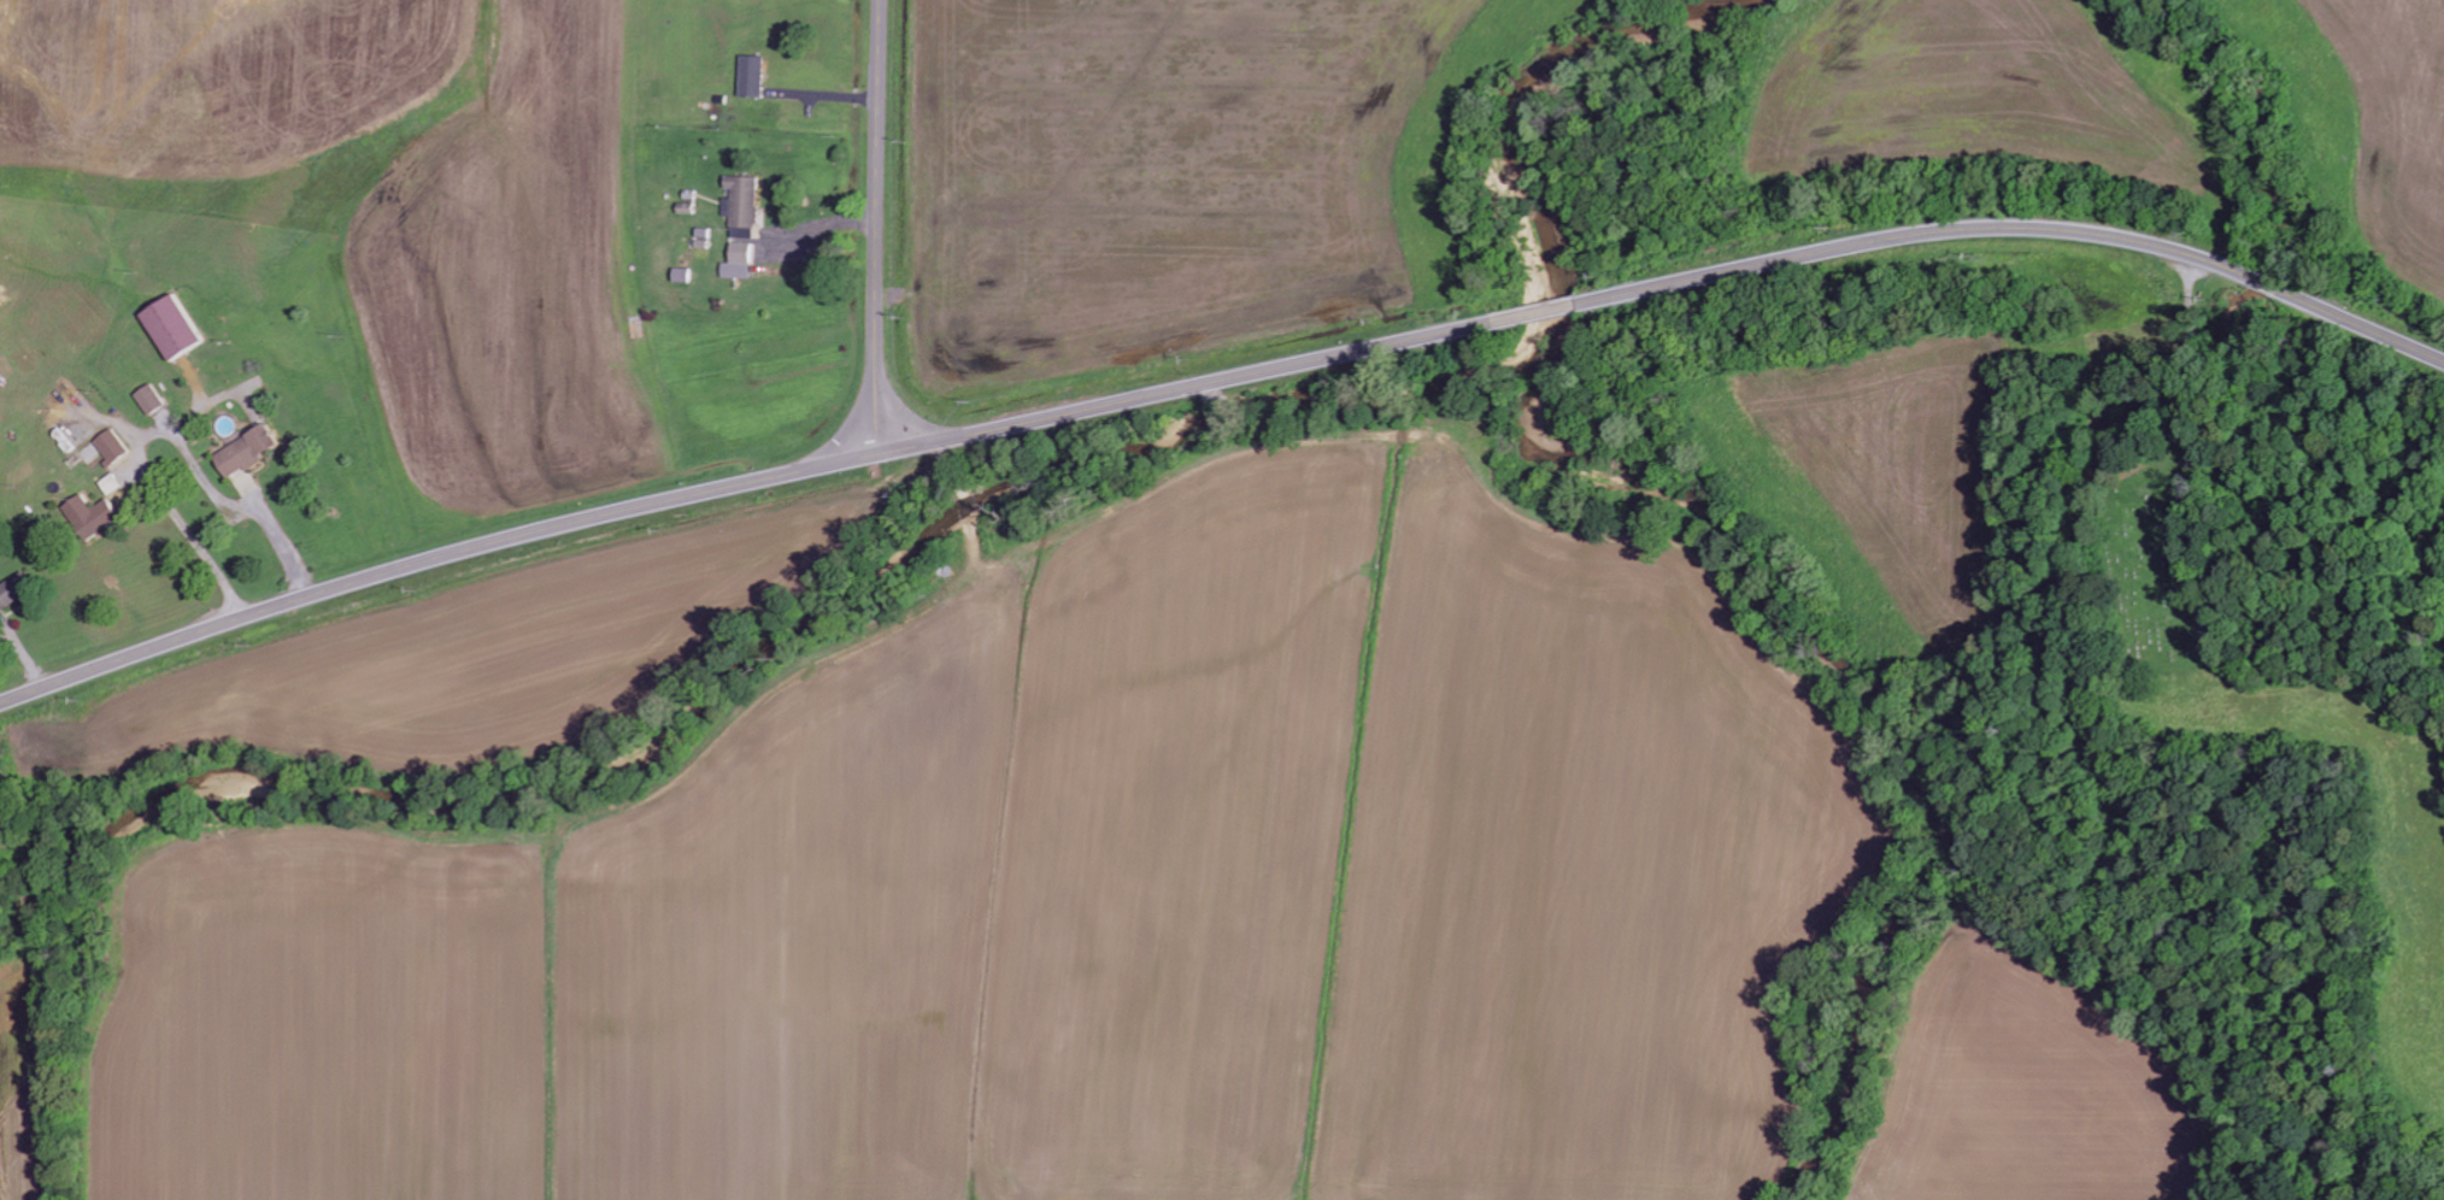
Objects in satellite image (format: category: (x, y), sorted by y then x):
building: (757, 76)
building: (746, 224)
road: (879, 248)
building: (178, 328)
road: (1218, 382)
building: (155, 399)
road: (857, 420)
building: (117, 446)
building: (254, 451)
building: (117, 483)
building: (98, 516)
park: (2139, 567)
building: (16, 590)

